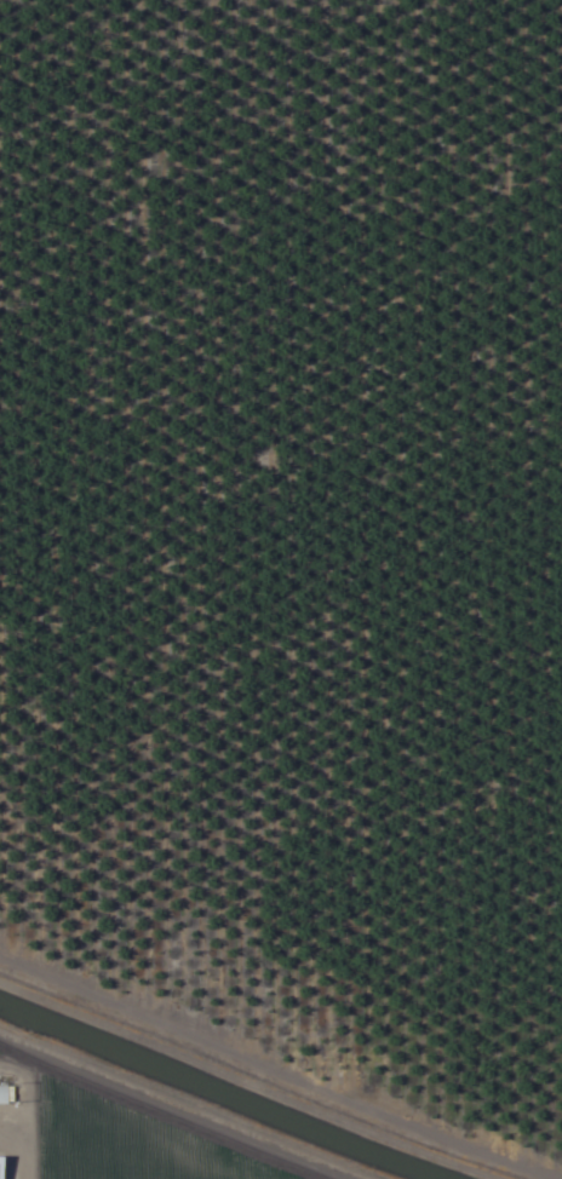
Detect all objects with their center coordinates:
crop: (281, 589)
building: (1, 1095)
building: (0, 1173)

